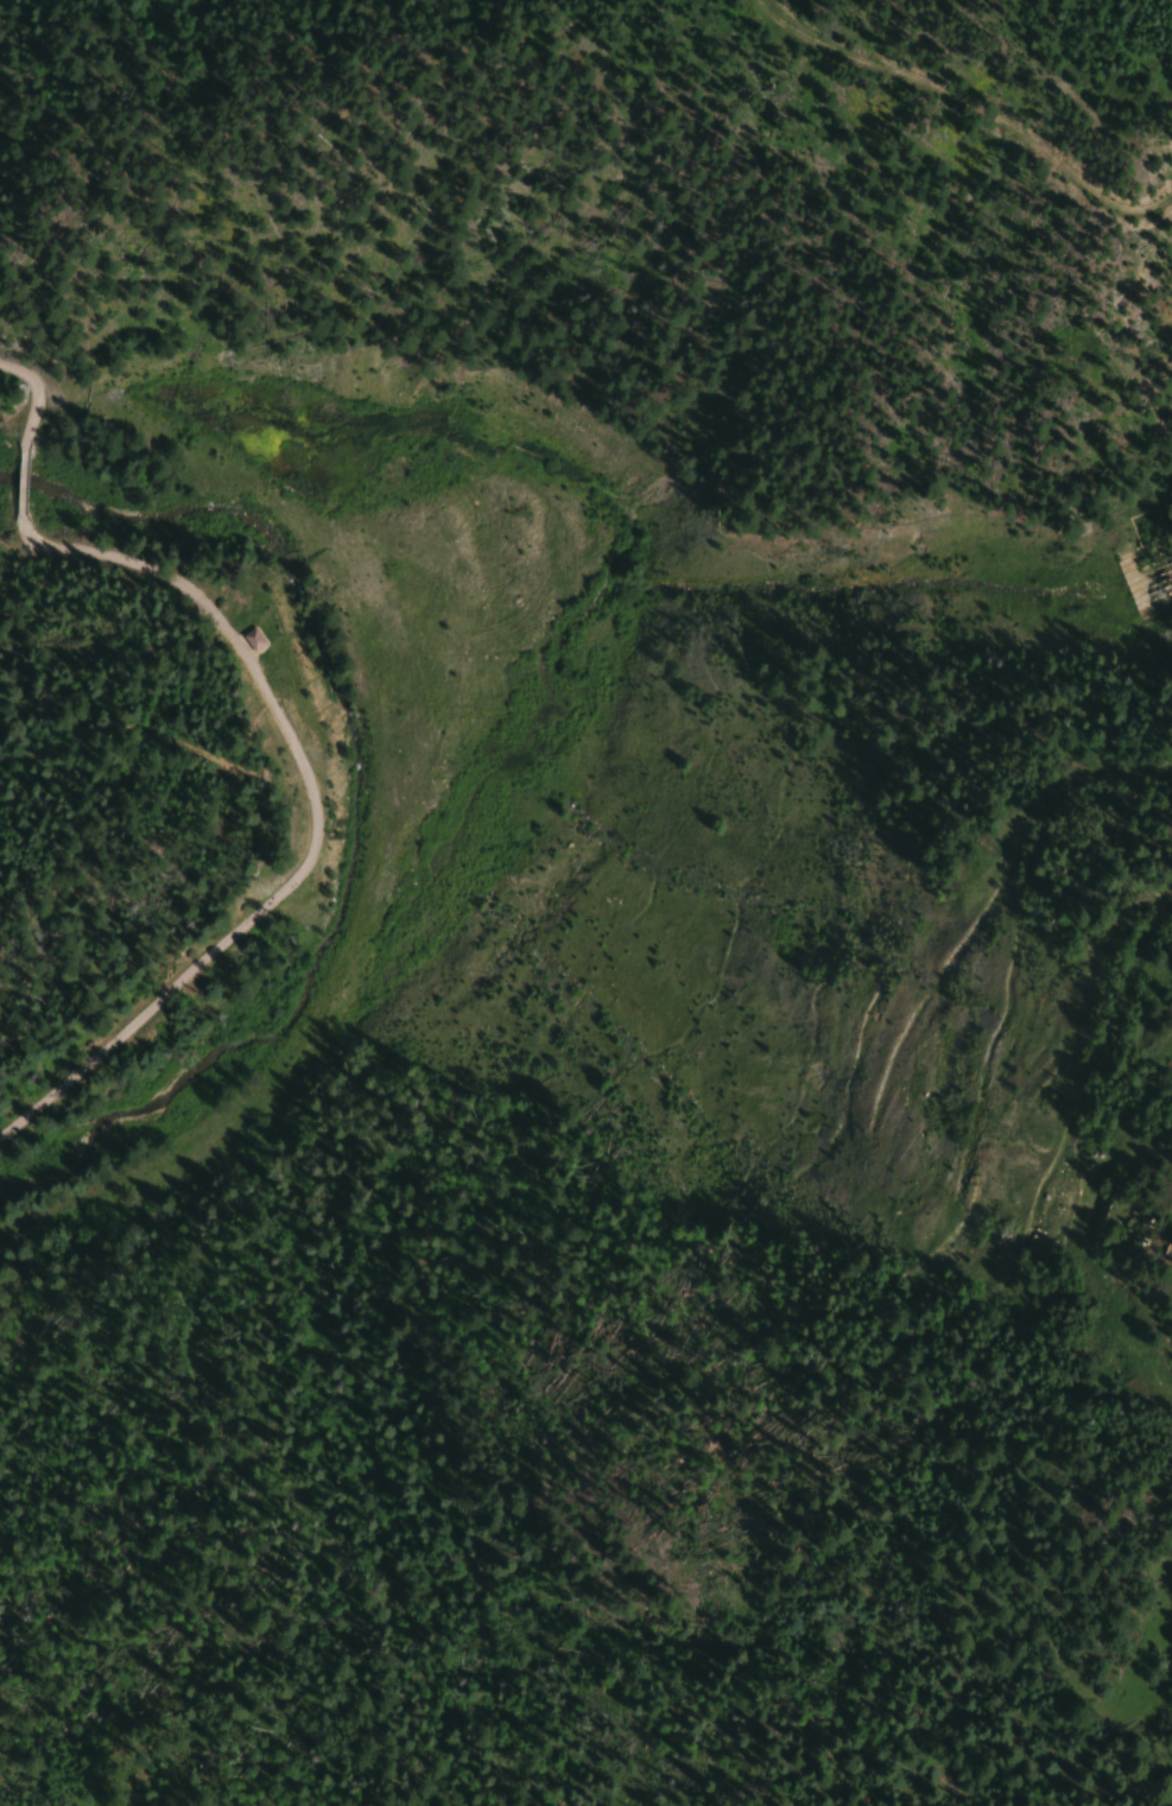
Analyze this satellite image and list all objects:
road: (15, 370)
road: (31, 412)
road: (20, 484)
building: (252, 640)
road: (313, 818)

